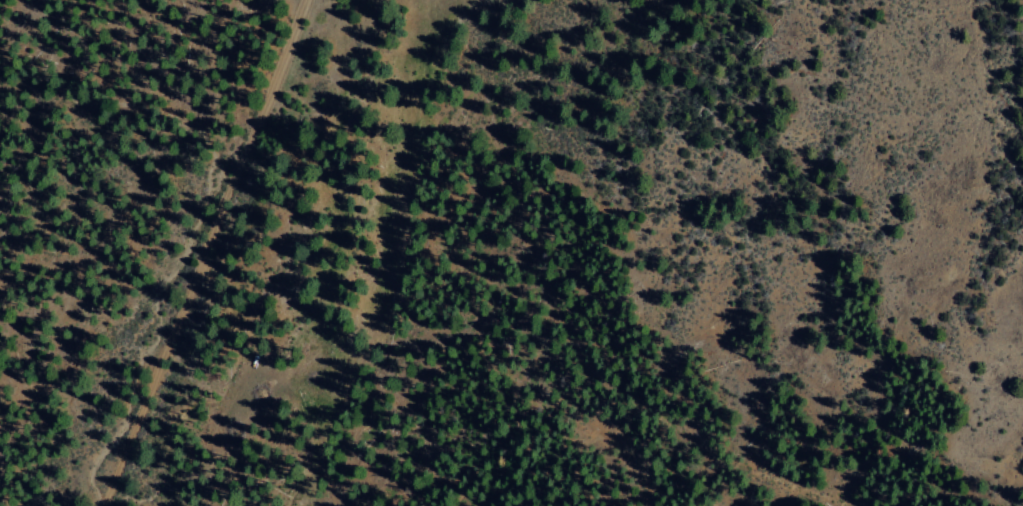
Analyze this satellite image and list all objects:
road: (203, 253)

